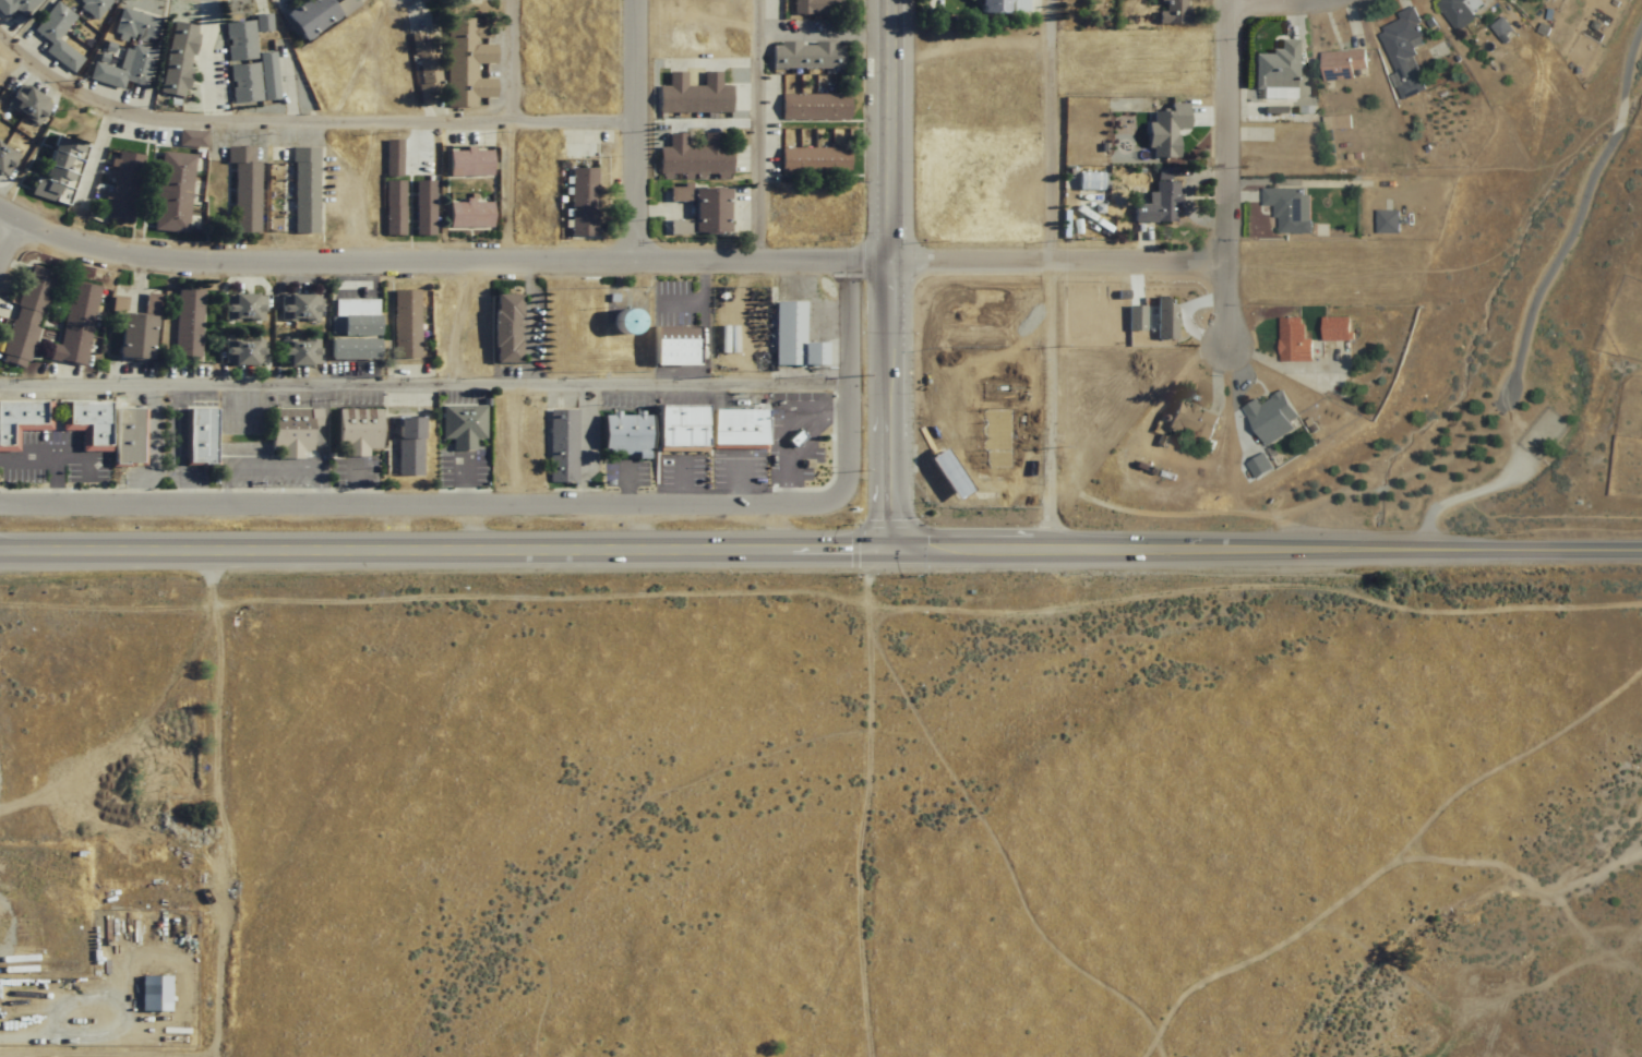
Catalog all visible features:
building: (345, 5)
building: (1021, 5)
building: (16, 7)
building: (93, 7)
building: (817, 7)
building: (993, 7)
road: (1281, 8)
building: (1459, 11)
building: (1172, 12)
building: (310, 16)
building: (262, 23)
building: (136, 25)
building: (57, 35)
building: (1403, 50)
building: (250, 55)
building: (806, 56)
building: (178, 59)
building: (466, 63)
building: (1341, 64)
building: (1275, 68)
building: (124, 70)
building: (424, 71)
building: (243, 83)
building: (694, 95)
building: (26, 105)
building: (304, 105)
building: (814, 107)
building: (1165, 130)
road: (632, 131)
building: (694, 156)
building: (391, 158)
building: (5, 159)
building: (814, 160)
building: (467, 163)
building: (52, 169)
road: (1222, 176)
building: (1091, 181)
building: (122, 188)
building: (242, 188)
building: (302, 191)
building: (171, 193)
building: (582, 203)
building: (1159, 204)
building: (393, 208)
building: (422, 208)
building: (1290, 209)
building: (468, 214)
building: (703, 214)
road: (1579, 215)
building: (1387, 223)
road: (4, 237)
road: (608, 262)
road: (891, 275)
road: (1052, 275)
road: (702, 302)
building: (240, 308)
building: (296, 309)
building: (23, 317)
building: (350, 317)
building: (1155, 319)
building: (621, 322)
building: (184, 323)
building: (403, 325)
building: (72, 326)
building: (1335, 328)
building: (501, 329)
building: (131, 337)
building: (793, 337)
road: (530, 340)
building: (1293, 340)
building: (672, 346)
building: (349, 350)
building: (239, 352)
building: (295, 352)
road: (850, 376)
road: (426, 385)
road: (247, 415)
building: (1271, 418)
building: (20, 420)
building: (1191, 422)
building: (459, 425)
building: (678, 429)
building: (735, 429)
building: (101, 430)
building: (287, 432)
building: (352, 432)
building: (623, 433)
road: (790, 433)
building: (196, 436)
road: (148, 445)
road: (179, 445)
road: (321, 445)
building: (559, 446)
building: (405, 447)
building: (988, 447)
road: (50, 456)
road: (70, 456)
road: (273, 469)
building: (946, 475)
road: (464, 480)
road: (739, 480)
road: (684, 481)
road: (626, 484)
road: (423, 504)
road: (441, 550)
traffic signals: (883, 550)
road: (1261, 551)
road: (868, 802)
road: (219, 804)
building: (153, 992)

